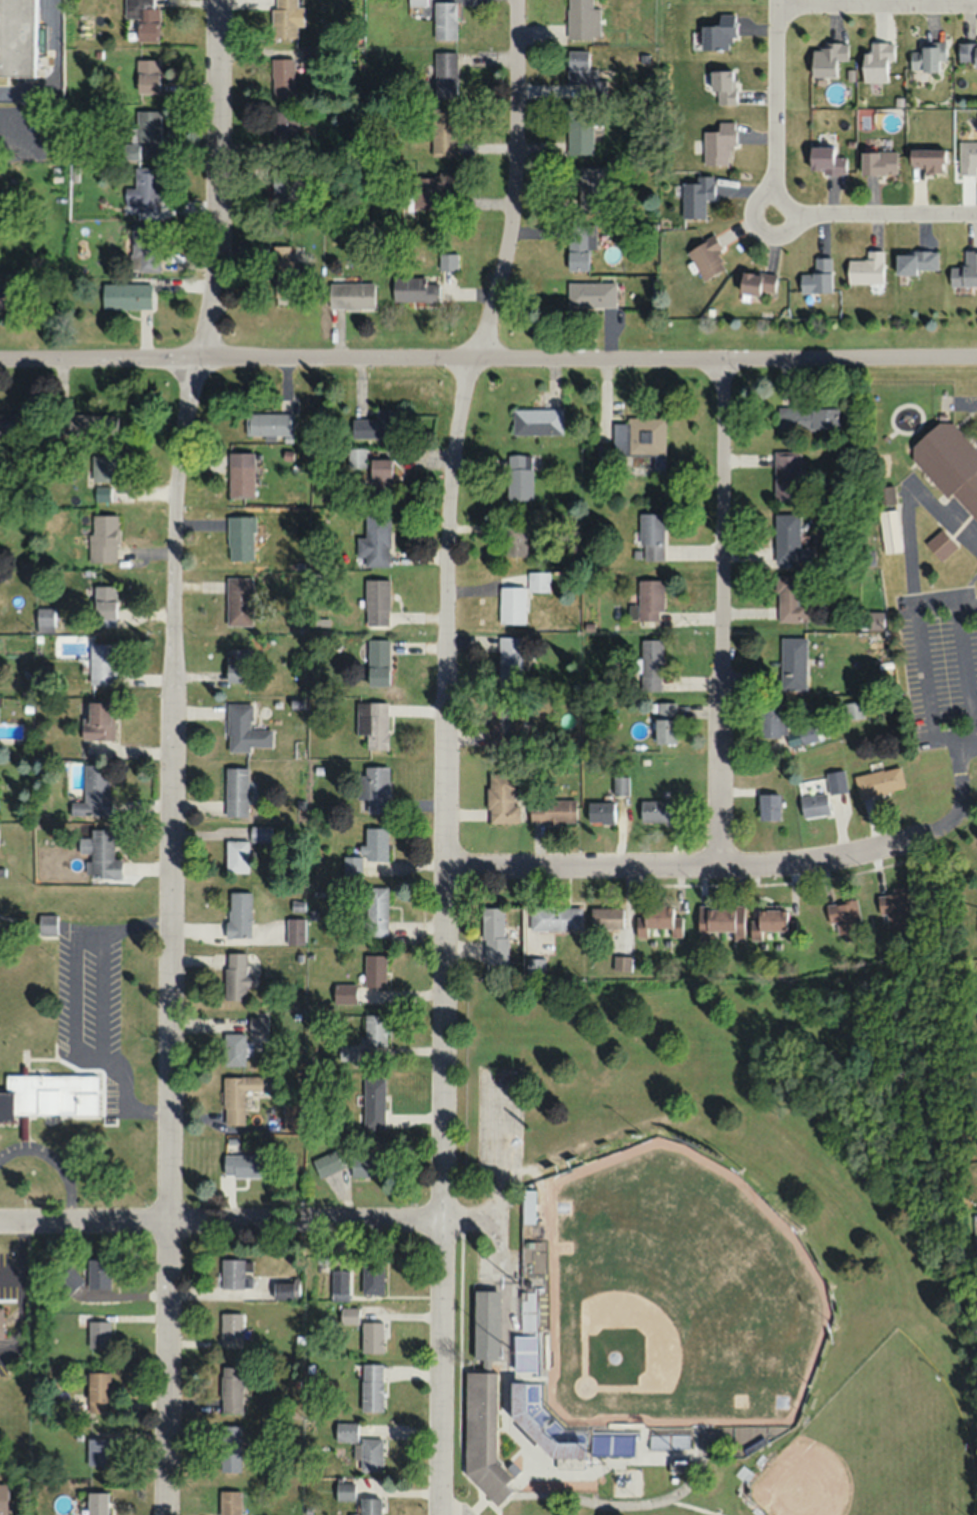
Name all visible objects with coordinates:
building: (417, 2)
road: (875, 4)
building: (284, 18)
building: (583, 19)
building: (445, 20)
building: (143, 21)
building: (719, 34)
building: (17, 37)
building: (968, 53)
building: (827, 58)
building: (929, 58)
building: (877, 61)
building: (577, 66)
building: (445, 73)
road: (57, 75)
building: (147, 75)
building: (282, 76)
building: (723, 85)
road: (773, 106)
building: (147, 124)
building: (284, 126)
building: (579, 130)
building: (444, 131)
building: (719, 143)
building: (967, 156)
building: (825, 159)
building: (928, 159)
building: (878, 161)
building: (590, 186)
building: (283, 189)
building: (431, 189)
building: (144, 190)
building: (696, 195)
road: (875, 213)
building: (580, 244)
building: (145, 246)
building: (707, 257)
building: (448, 260)
building: (916, 261)
building: (866, 268)
building: (965, 271)
building: (285, 272)
building: (818, 276)
building: (758, 282)
building: (415, 289)
building: (350, 294)
building: (592, 294)
building: (126, 295)
building: (1, 296)
road: (488, 363)
building: (809, 418)
building: (537, 421)
building: (7, 422)
building: (85, 423)
building: (269, 424)
building: (376, 424)
building: (639, 444)
building: (356, 457)
building: (949, 463)
building: (105, 467)
building: (241, 474)
building: (381, 474)
building: (787, 475)
building: (519, 477)
building: (102, 493)
building: (884, 496)
road: (906, 499)
building: (889, 531)
building: (652, 536)
building: (241, 537)
building: (103, 538)
building: (376, 540)
building: (515, 540)
building: (790, 540)
building: (940, 545)
building: (539, 582)
building: (792, 598)
building: (239, 600)
building: (650, 600)
building: (377, 602)
building: (513, 604)
building: (105, 605)
road: (722, 616)
building: (44, 619)
road: (918, 657)
building: (510, 661)
building: (378, 662)
building: (102, 663)
building: (793, 663)
building: (237, 664)
building: (652, 664)
road: (963, 675)
building: (854, 710)
building: (771, 719)
building: (96, 720)
building: (499, 723)
building: (666, 723)
building: (375, 724)
building: (245, 729)
building: (808, 733)
road: (975, 734)
road: (446, 753)
road: (172, 755)
building: (836, 780)
building: (879, 781)
building: (620, 785)
building: (374, 788)
building: (96, 789)
building: (236, 791)
building: (502, 797)
building: (814, 804)
building: (769, 805)
building: (552, 810)
building: (654, 810)
building: (600, 812)
road: (967, 813)
building: (375, 843)
building: (243, 850)
building: (103, 854)
road: (736, 867)
building: (894, 908)
building: (376, 911)
building: (238, 914)
building: (844, 917)
building: (555, 918)
building: (606, 918)
building: (720, 919)
building: (658, 920)
building: (775, 921)
building: (45, 922)
building: (295, 931)
building: (493, 935)
building: (535, 966)
building: (374, 970)
building: (236, 976)
building: (344, 992)
building: (374, 1029)
building: (347, 1052)
building: (38, 1095)
building: (240, 1095)
building: (374, 1103)
building: (292, 1115)
building: (350, 1163)
building: (244, 1164)
building: (741, 1189)
building: (528, 1205)
road: (220, 1219)
park: (706, 1249)
building: (98, 1273)
building: (236, 1274)
building: (372, 1276)
building: (68, 1280)
building: (339, 1285)
building: (286, 1290)
park: (674, 1296)
building: (512, 1307)
building: (349, 1315)
building: (1, 1321)
building: (231, 1326)
stadium: (639, 1328)
building: (98, 1334)
building: (372, 1336)
building: (371, 1387)
building: (230, 1389)
building: (98, 1392)
building: (484, 1401)
building: (541, 1427)
building: (669, 1440)
building: (613, 1443)
park: (876, 1446)
building: (229, 1448)
building: (97, 1451)
building: (371, 1453)
building: (677, 1465)
building: (344, 1491)
building: (3, 1499)
building: (229, 1502)
building: (97, 1503)
road: (634, 1503)
building: (370, 1506)
road: (694, 1506)

